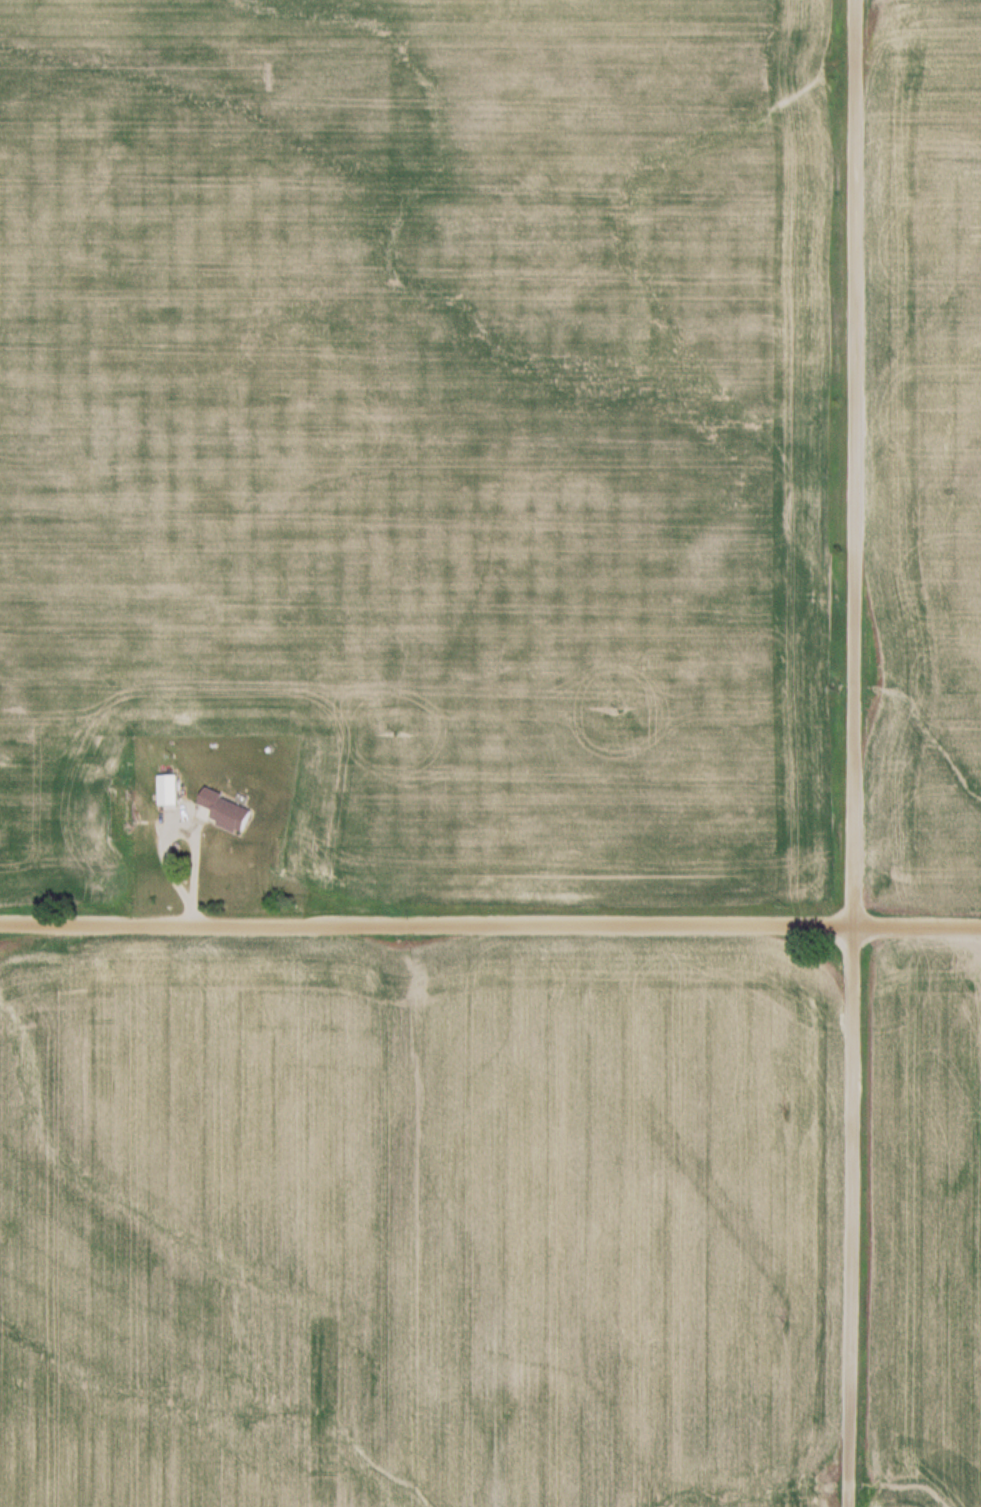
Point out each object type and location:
road: (854, 753)
building: (175, 789)
building: (227, 810)
road: (490, 926)

